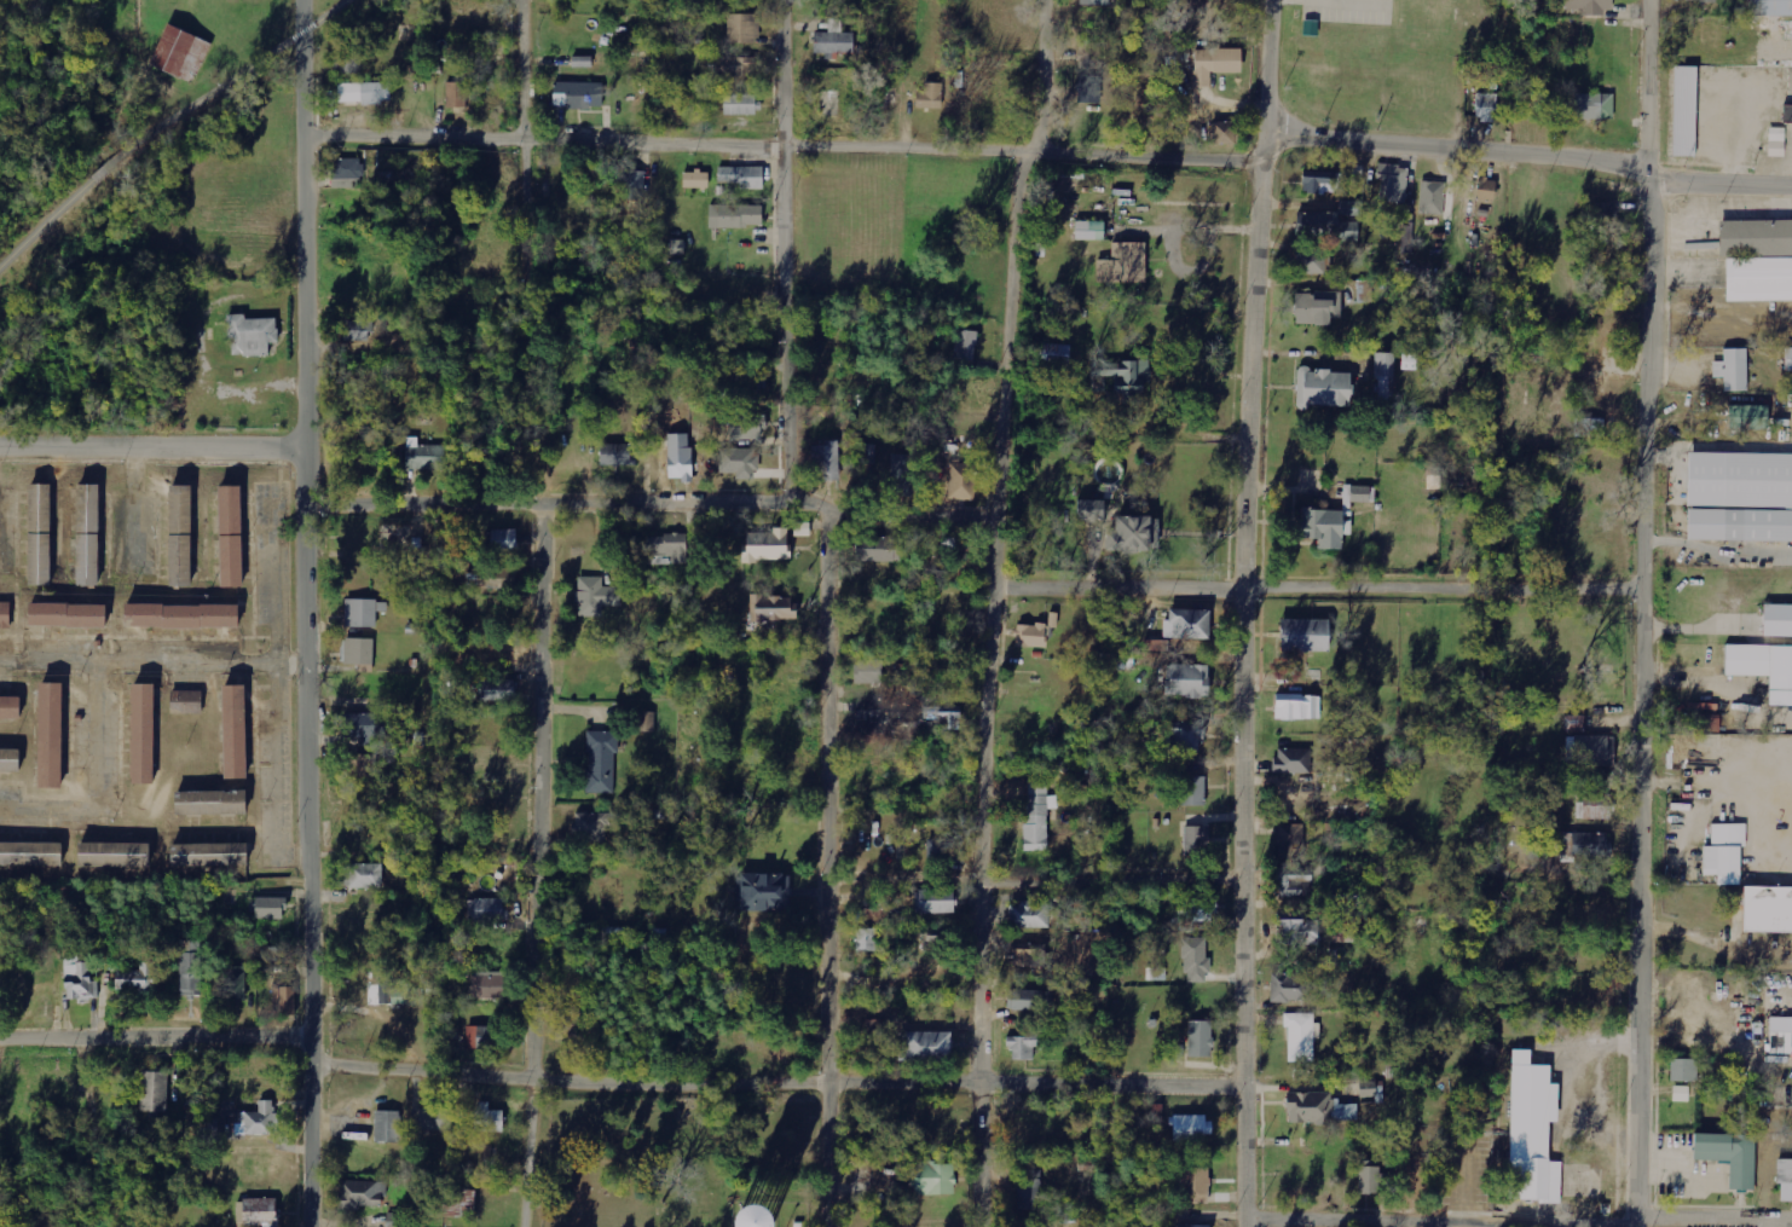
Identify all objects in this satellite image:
building: (1701, 1)
building: (1590, 6)
building: (1769, 8)
building: (742, 28)
building: (834, 39)
building: (179, 53)
building: (1089, 53)
building: (349, 59)
building: (1214, 64)
building: (733, 66)
road: (233, 77)
building: (1088, 89)
building: (365, 93)
building: (457, 94)
building: (577, 96)
building: (930, 96)
building: (1175, 98)
building: (739, 104)
building: (1592, 105)
building: (1486, 106)
building: (1684, 111)
building: (1226, 132)
road: (526, 134)
building: (1776, 141)
road: (786, 146)
road: (1530, 158)
road: (106, 167)
building: (355, 167)
building: (741, 176)
building: (696, 179)
building: (1318, 181)
building: (632, 184)
building: (1393, 184)
building: (1485, 189)
building: (1432, 198)
building: (1602, 213)
building: (735, 215)
building: (1322, 221)
road: (46, 222)
building: (1089, 230)
road: (785, 248)
building: (1756, 261)
building: (1312, 262)
building: (1123, 264)
building: (1316, 307)
building: (358, 331)
building: (252, 335)
building: (965, 346)
building: (1054, 357)
building: (1787, 360)
building: (1729, 370)
building: (1383, 375)
building: (1120, 378)
building: (1322, 388)
building: (1746, 417)
building: (742, 427)
building: (1589, 428)
road: (151, 448)
building: (868, 455)
building: (424, 457)
building: (677, 459)
building: (826, 461)
building: (739, 463)
building: (903, 471)
building: (1738, 479)
building: (960, 481)
road: (654, 499)
building: (1091, 510)
building: (1738, 525)
building: (1323, 527)
building: (1132, 534)
building: (37, 538)
building: (86, 538)
building: (178, 538)
building: (229, 539)
building: (503, 540)
building: (767, 545)
building: (667, 546)
building: (878, 549)
building: (950, 549)
building: (497, 575)
road: (1320, 584)
building: (595, 596)
building: (771, 608)
road: (998, 609)
building: (364, 612)
road: (310, 613)
road: (1238, 613)
road: (1641, 613)
building: (4, 617)
building: (67, 619)
building: (181, 619)
building: (1052, 620)
building: (1776, 623)
building: (1186, 624)
building: (1031, 636)
building: (1303, 636)
building: (1152, 646)
building: (358, 652)
road: (155, 664)
building: (1763, 670)
building: (868, 672)
building: (1186, 681)
building: (499, 690)
building: (184, 702)
building: (8, 707)
building: (1297, 707)
building: (943, 718)
building: (872, 720)
building: (646, 722)
building: (1709, 723)
building: (363, 728)
building: (233, 733)
building: (141, 734)
building: (48, 736)
building: (1185, 736)
building: (1594, 751)
building: (1293, 760)
building: (8, 762)
building: (601, 762)
building: (364, 765)
road: (96, 783)
building: (1193, 791)
building: (209, 804)
building: (1595, 806)
building: (1036, 816)
building: (592, 827)
building: (1195, 835)
building: (1290, 841)
building: (1586, 845)
building: (946, 850)
building: (1721, 852)
building: (1516, 855)
building: (30, 856)
building: (112, 856)
building: (208, 856)
road: (537, 864)
road: (832, 867)
building: (364, 875)
road: (1035, 875)
building: (1291, 879)
road: (1540, 887)
building: (763, 892)
building: (935, 902)
building: (271, 908)
building: (487, 910)
building: (1765, 910)
building: (1196, 911)
building: (89, 913)
building: (1028, 915)
building: (1297, 928)
building: (866, 940)
building: (1030, 953)
building: (270, 954)
building: (1196, 960)
building: (191, 967)
building: (80, 977)
building: (137, 978)
building: (231, 984)
building: (486, 985)
building: (1289, 988)
building: (400, 996)
building: (1029, 1000)
building: (284, 1001)
building: (875, 1028)
road: (156, 1036)
building: (1780, 1036)
building: (481, 1037)
building: (1301, 1037)
building: (1200, 1040)
building: (926, 1044)
building: (1023, 1047)
building: (1683, 1071)
road: (779, 1081)
building: (155, 1092)
building: (1681, 1094)
building: (1318, 1109)
building: (487, 1118)
building: (437, 1119)
building: (260, 1121)
building: (1530, 1125)
building: (388, 1127)
building: (1191, 1128)
building: (1729, 1157)
building: (1784, 1179)
building: (932, 1180)
building: (1369, 1180)
building: (1196, 1186)
building: (1029, 1191)
building: (363, 1194)
building: (461, 1203)
building: (260, 1211)
building: (735, 1219)
building: (398, 1220)
road: (1518, 1220)
water tower: (751, 1223)
building: (1191, 1226)

